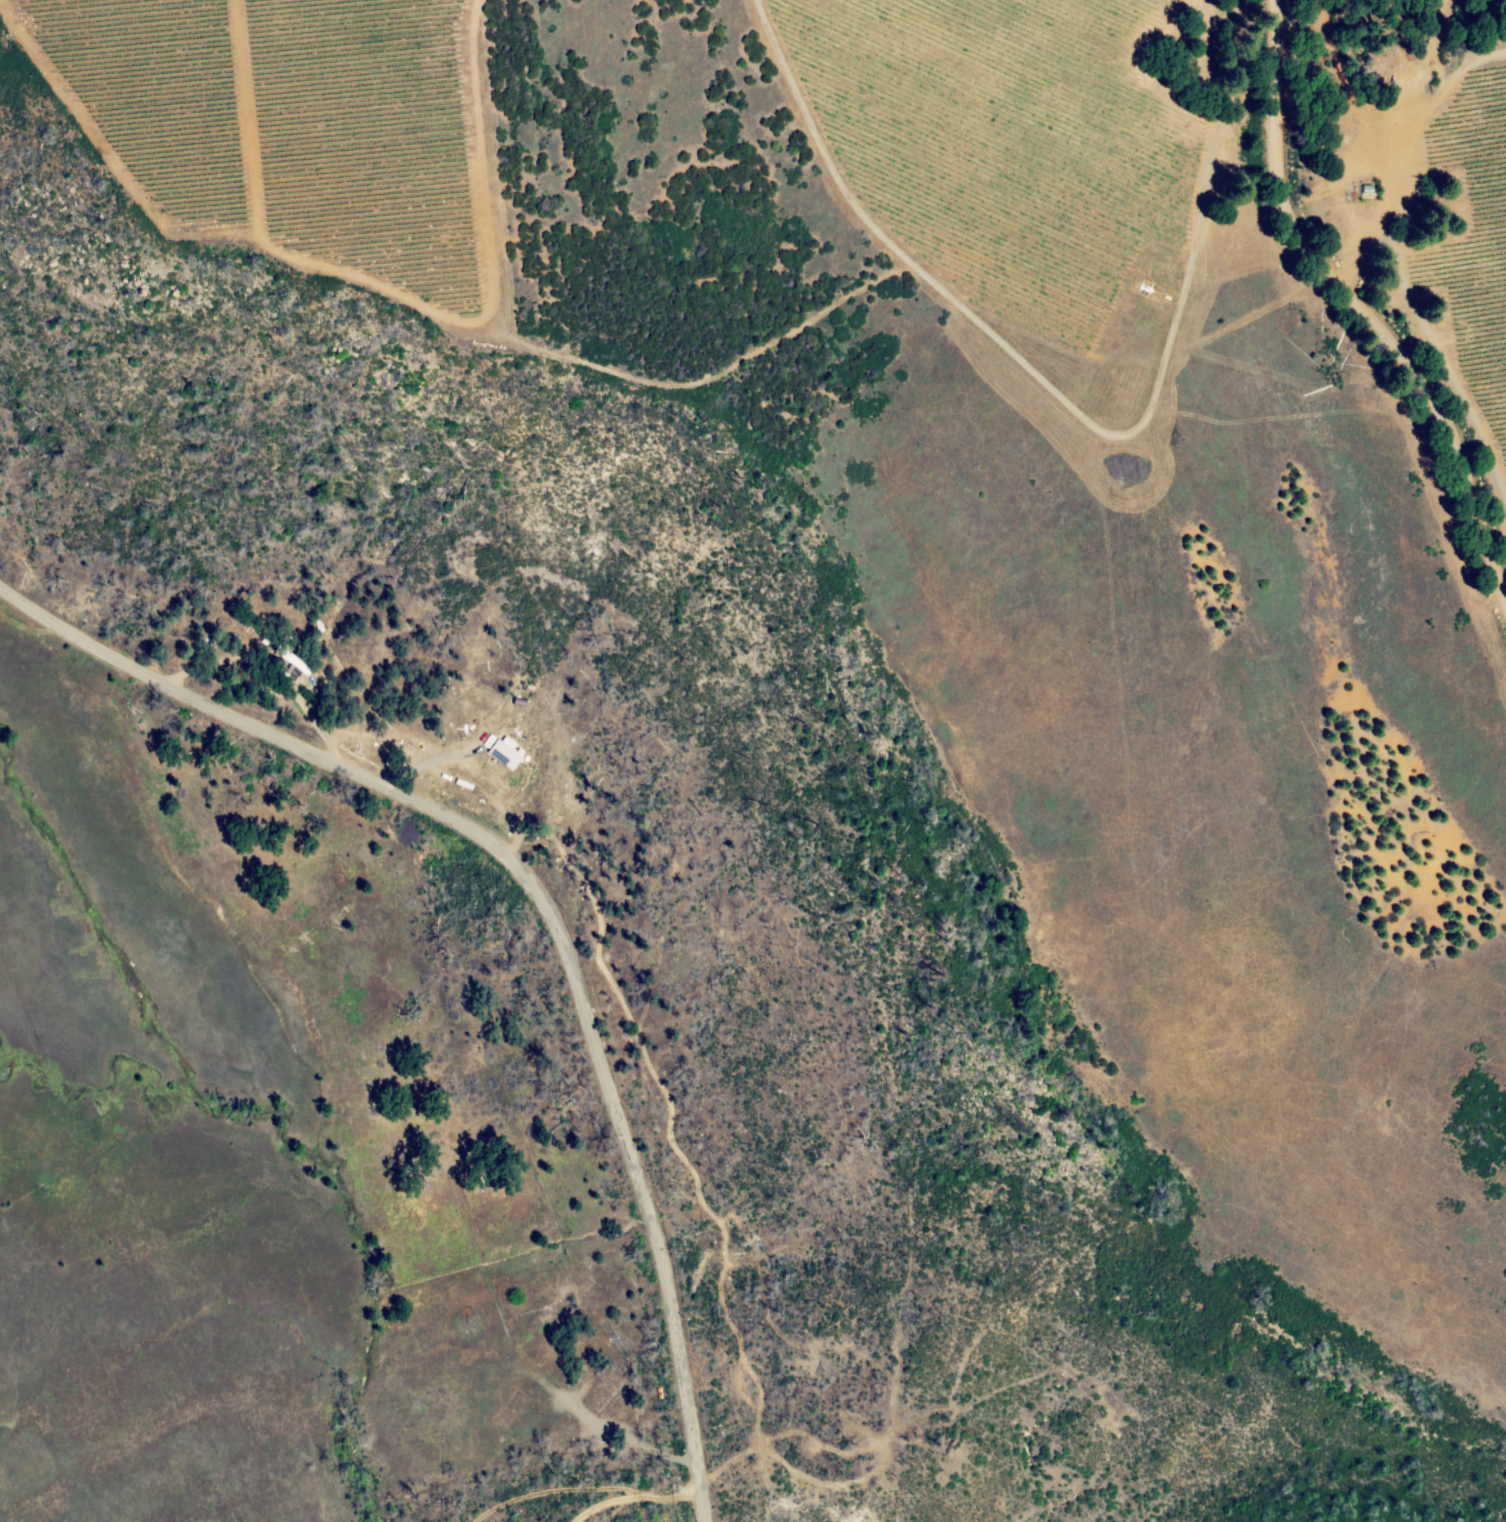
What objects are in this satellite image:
road: (1358, 309)
building: (293, 659)
road: (267, 678)
building: (504, 754)
road: (416, 755)
road: (542, 907)
road: (624, 1438)
road: (550, 1490)
road: (632, 1497)

